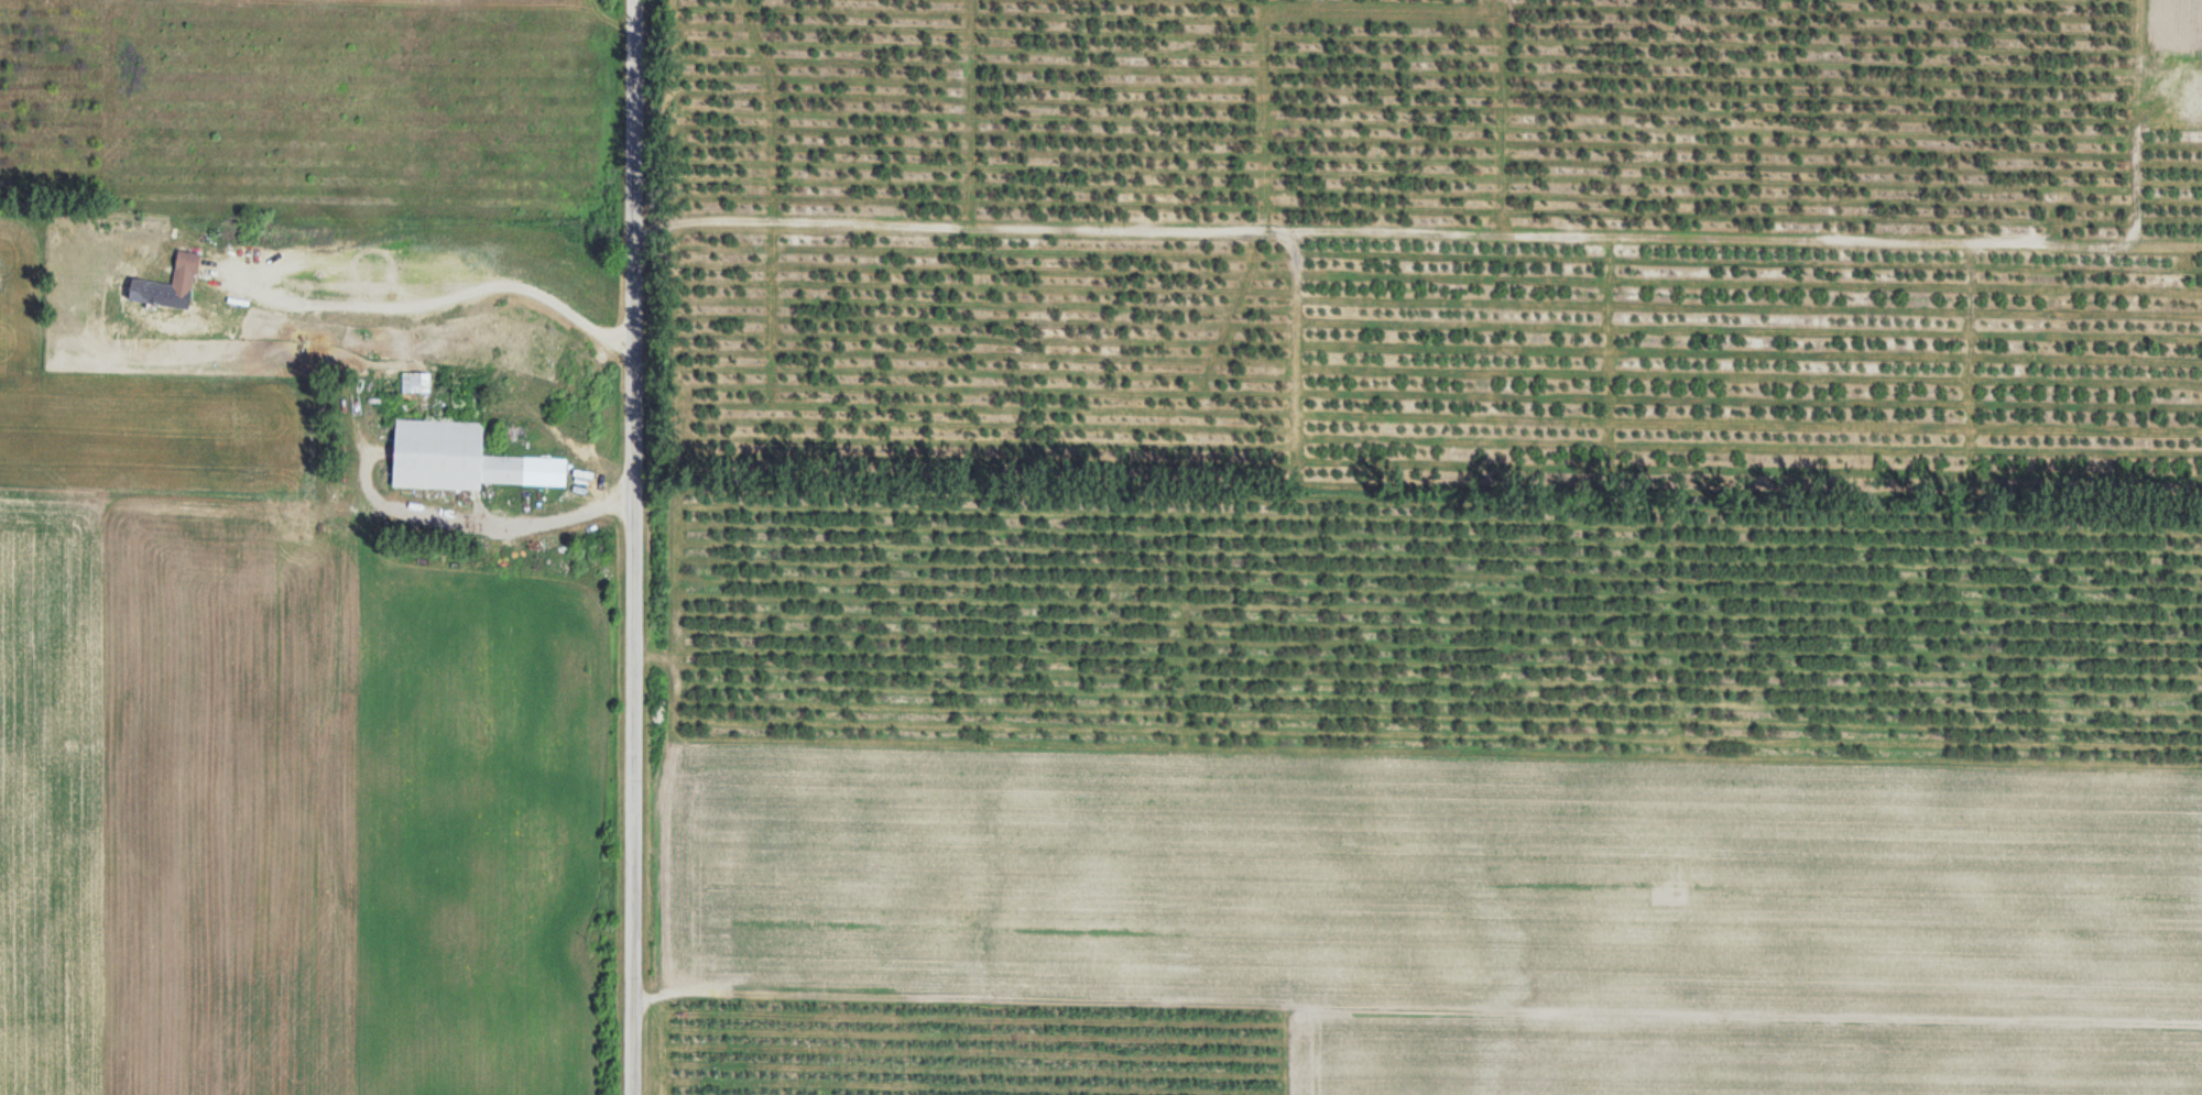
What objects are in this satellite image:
building: (164, 286)
building: (457, 459)
road: (524, 526)
road: (635, 547)

